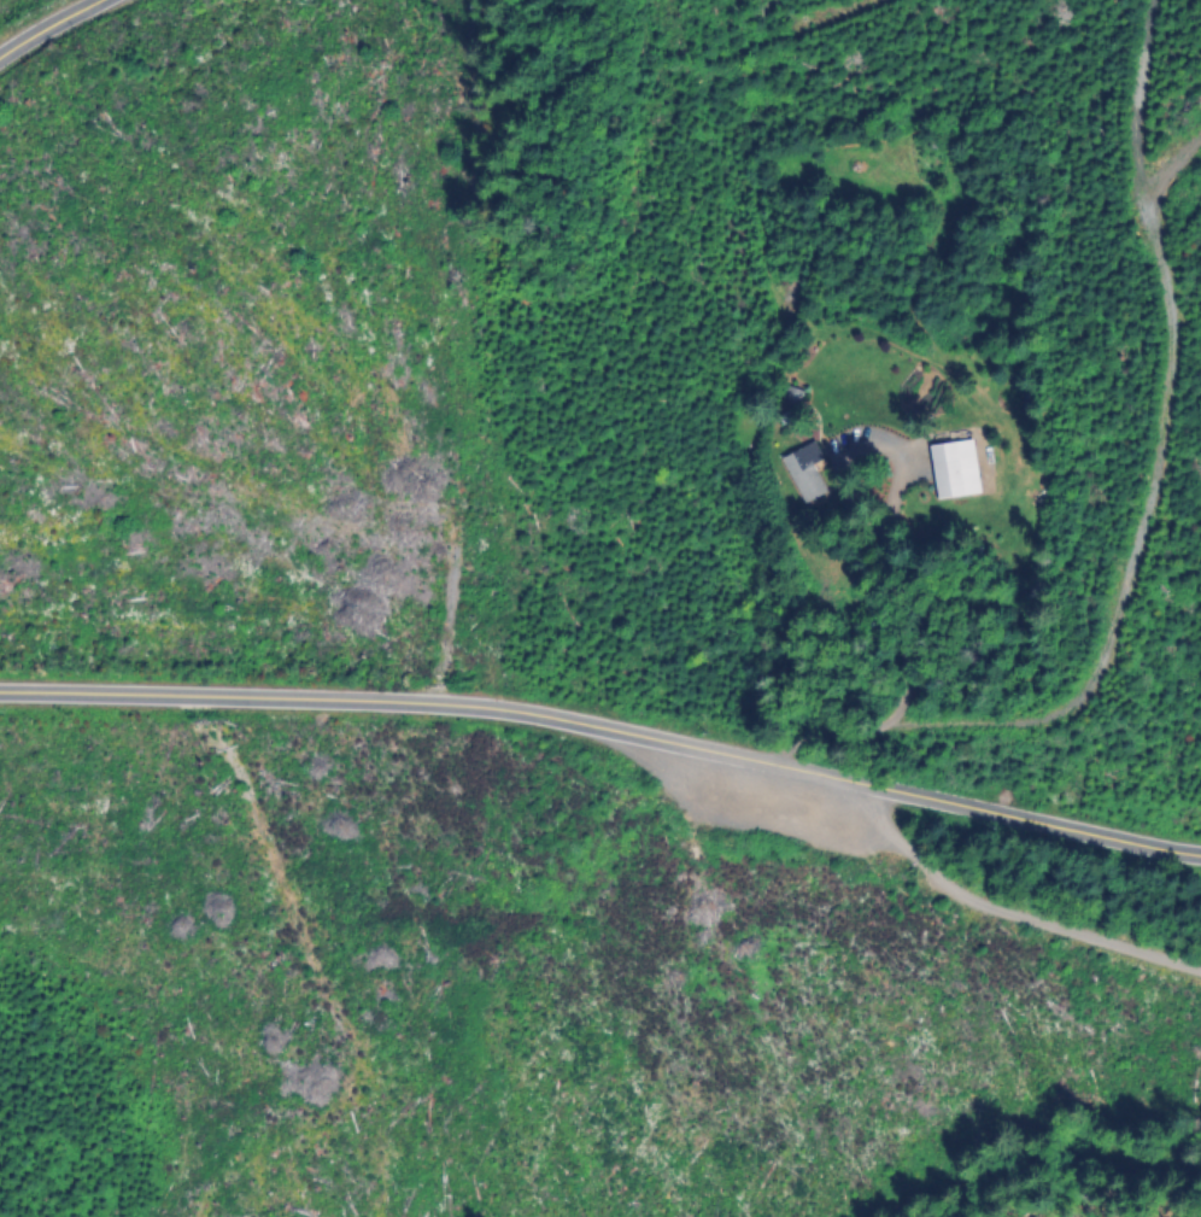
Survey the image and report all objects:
road: (41, 25)
building: (791, 398)
building: (955, 469)
building: (807, 470)
road: (906, 667)
road: (605, 729)
parking lot: (757, 791)
road: (1037, 915)

